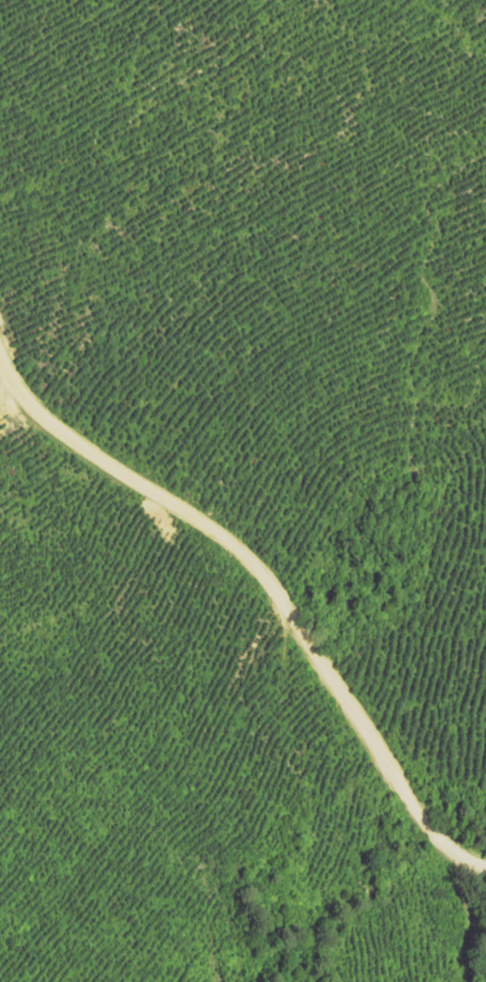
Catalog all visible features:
road: (265, 587)

